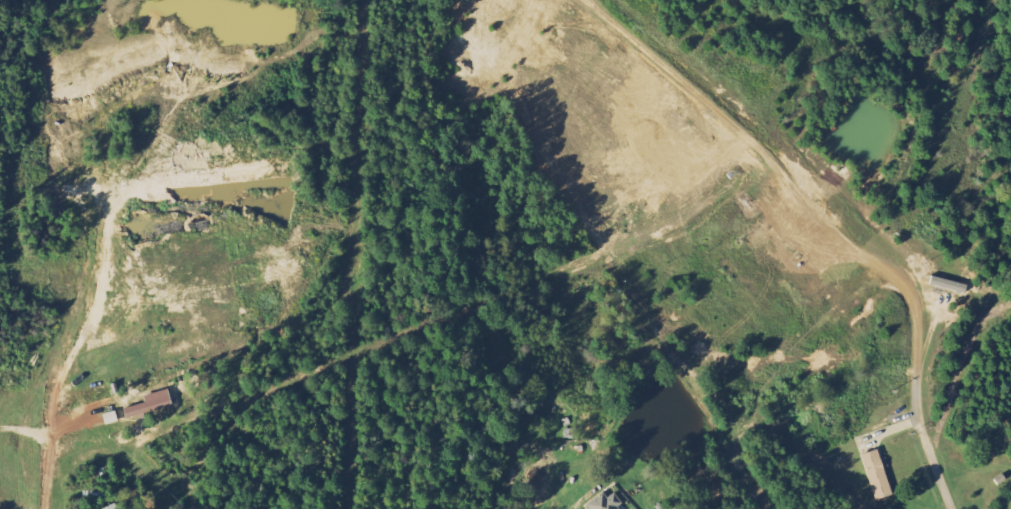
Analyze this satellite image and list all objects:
road: (782, 176)
building: (160, 401)
building: (137, 411)
road: (927, 447)
road: (51, 453)
building: (876, 475)
building: (602, 503)
building: (112, 507)

